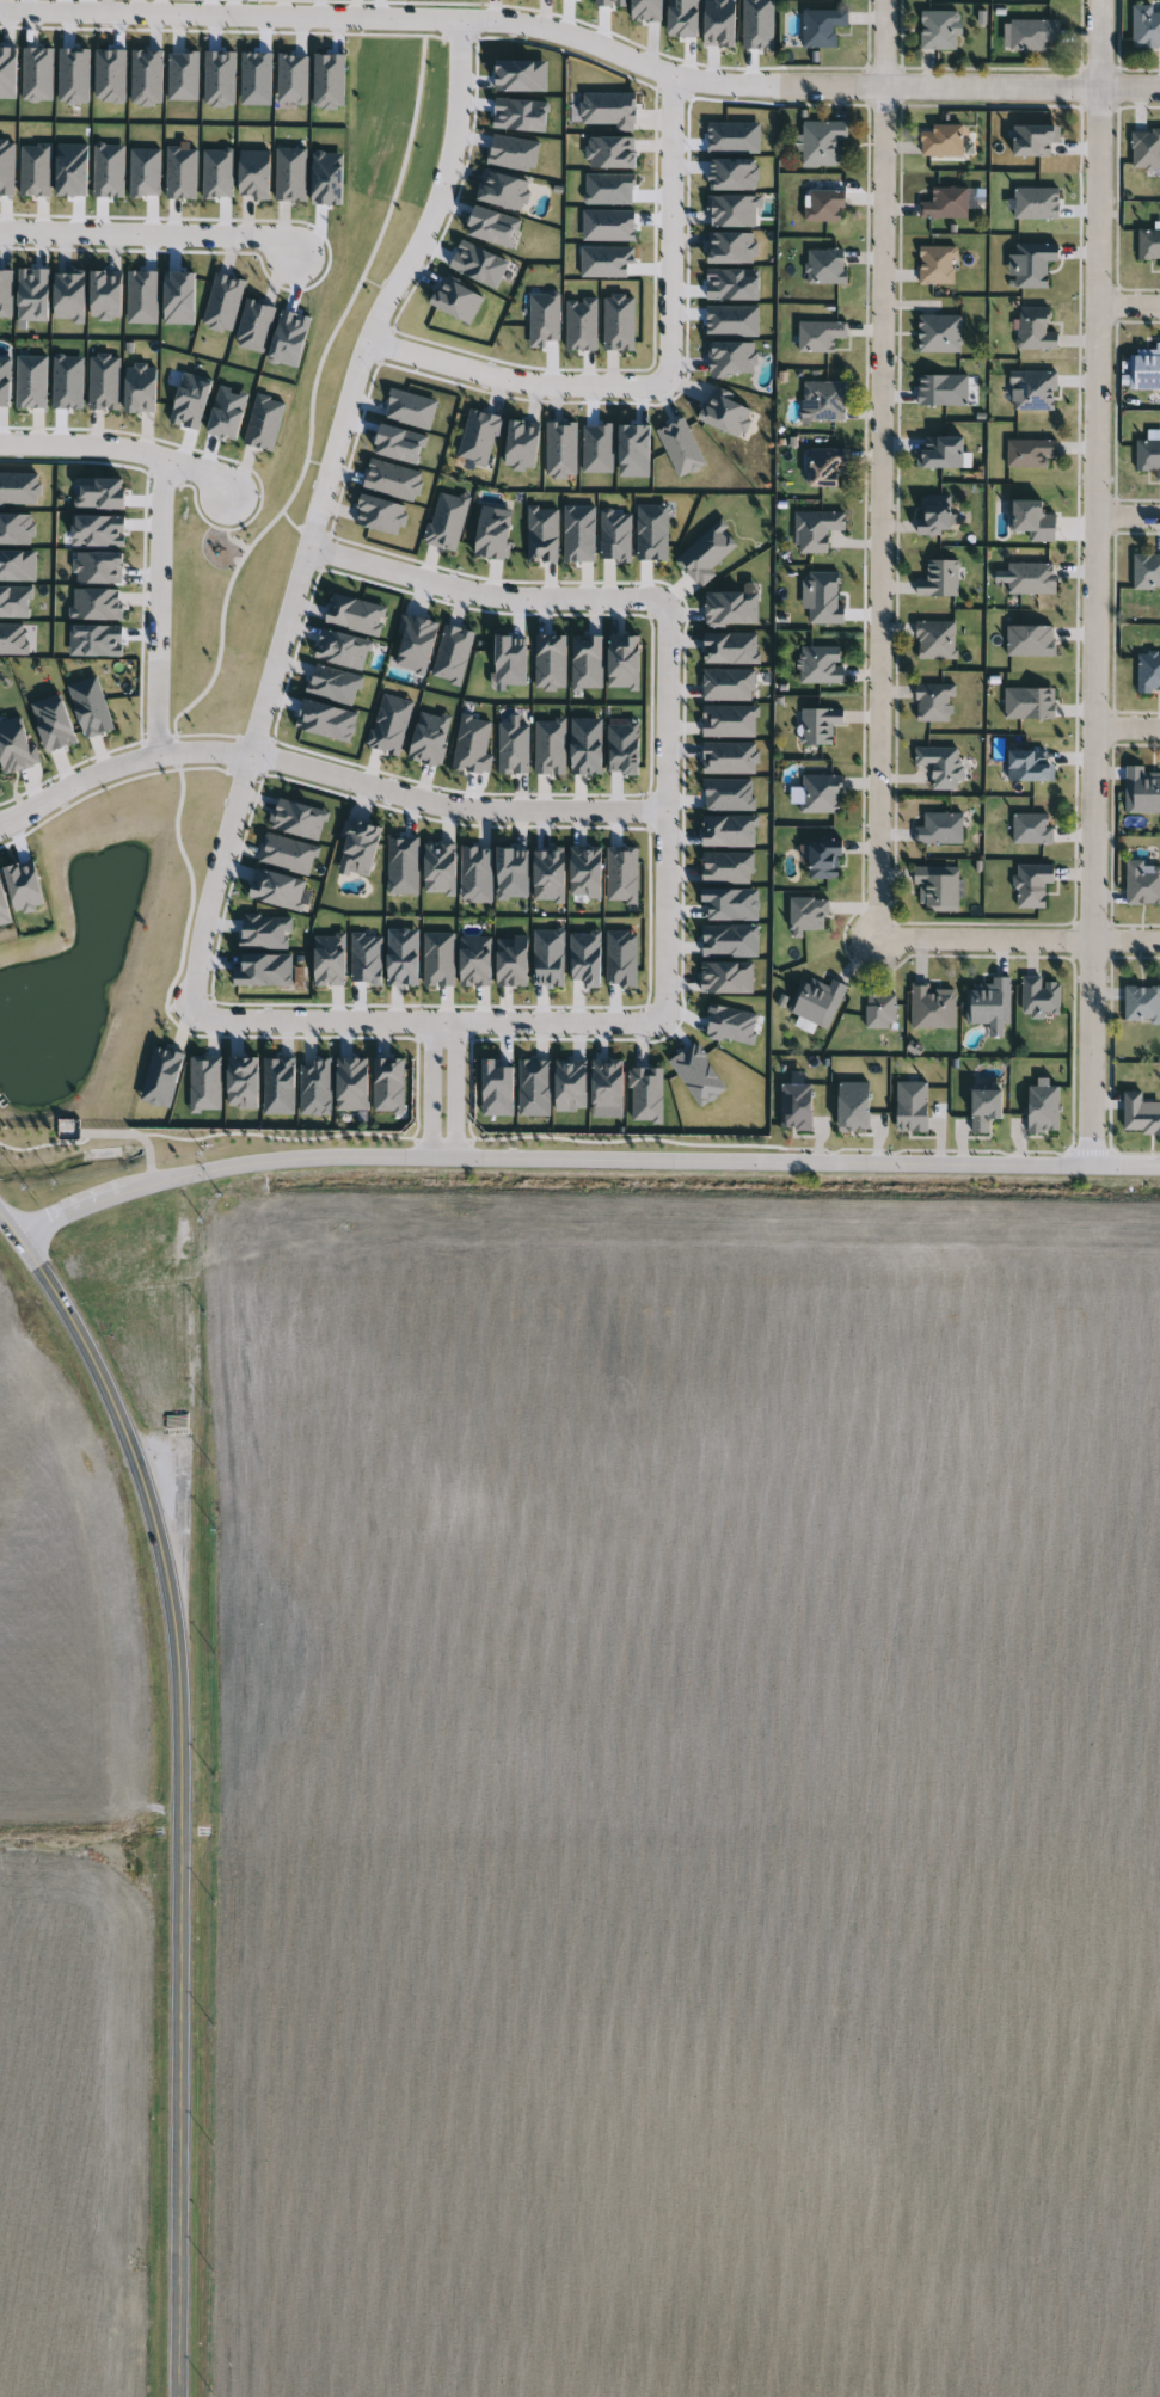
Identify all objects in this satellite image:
road: (509, 24)
building: (1144, 26)
building: (818, 27)
building: (935, 30)
building: (1031, 36)
road: (1082, 88)
building: (939, 141)
building: (821, 143)
building: (1144, 148)
building: (943, 203)
building: (822, 207)
road: (670, 227)
road: (154, 234)
building: (1147, 245)
building: (935, 265)
building: (1029, 265)
building: (823, 266)
road: (1131, 306)
building: (1032, 330)
building: (937, 334)
building: (816, 336)
building: (1144, 369)
road: (514, 381)
building: (1030, 391)
building: (821, 401)
road: (123, 453)
building: (1147, 457)
building: (823, 466)
road: (873, 472)
road: (320, 504)
building: (931, 515)
road: (1125, 518)
building: (814, 529)
building: (1146, 571)
building: (937, 578)
road: (1092, 583)
road: (480, 595)
building: (820, 596)
road: (159, 608)
building: (933, 640)
building: (817, 664)
building: (1147, 672)
building: (932, 702)
building: (816, 725)
road: (1125, 729)
building: (937, 766)
road: (325, 773)
building: (1140, 791)
road: (664, 793)
building: (818, 793)
building: (937, 828)
building: (1029, 828)
building: (821, 859)
building: (1029, 884)
building: (1142, 886)
building: (934, 887)
road: (983, 945)
road: (1125, 945)
building: (1038, 997)
building: (814, 1001)
building: (986, 1002)
building: (1141, 1003)
building: (929, 1007)
building: (878, 1012)
road: (428, 1024)
road: (443, 1090)
road: (582, 1158)
road: (179, 1786)

